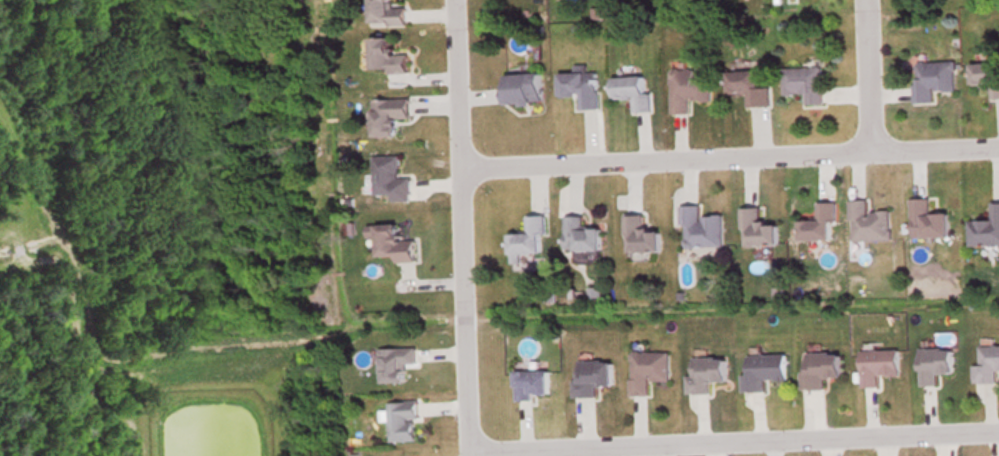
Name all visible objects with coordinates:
building: (384, 13)
building: (383, 55)
building: (985, 75)
road: (873, 76)
building: (931, 77)
building: (803, 82)
building: (521, 86)
building: (577, 86)
building: (747, 86)
building: (687, 87)
building: (631, 90)
building: (386, 113)
road: (729, 157)
building: (388, 177)
building: (926, 219)
building: (817, 221)
building: (867, 221)
building: (700, 226)
road: (462, 227)
building: (756, 227)
building: (985, 227)
building: (579, 233)
building: (639, 234)
building: (526, 236)
building: (391, 242)
building: (393, 362)
building: (932, 363)
building: (986, 363)
building: (876, 364)
building: (817, 368)
building: (646, 369)
building: (762, 369)
building: (704, 372)
building: (590, 375)
building: (529, 382)
building: (401, 420)
road: (733, 430)

